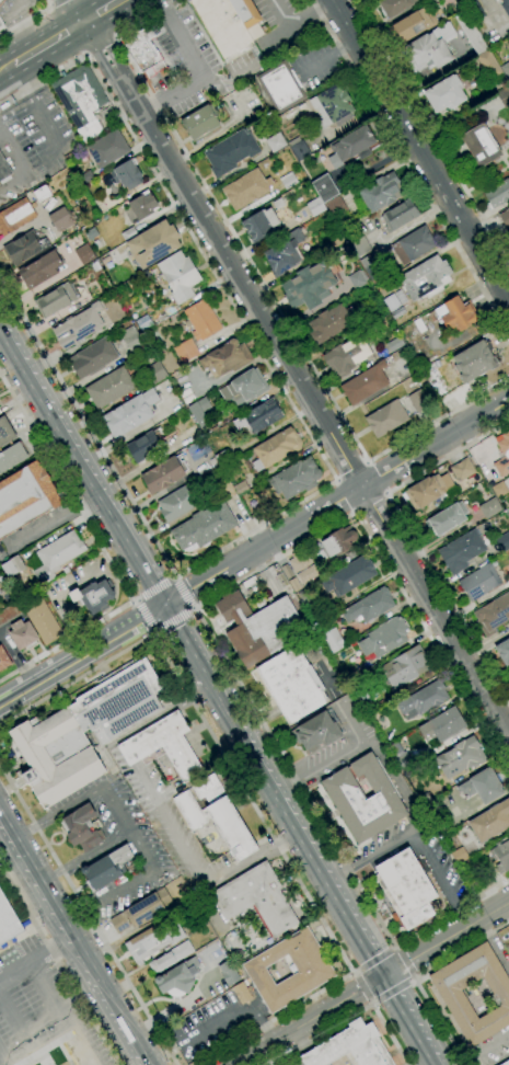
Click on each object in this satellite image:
building: (1, 1)
road: (55, 1)
parking lot: (365, 2)
road: (50, 4)
building: (395, 5)
building: (506, 8)
building: (473, 10)
road: (73, 11)
road: (101, 11)
building: (245, 12)
road: (26, 19)
road: (297, 22)
road: (27, 24)
building: (413, 24)
building: (1, 25)
building: (222, 26)
building: (470, 32)
railway: (56, 34)
road: (181, 37)
railway: (65, 38)
road: (114, 39)
road: (48, 43)
road: (100, 47)
building: (429, 49)
building: (143, 51)
road: (86, 54)
building: (488, 65)
road: (7, 68)
building: (506, 70)
building: (280, 87)
road: (171, 93)
building: (444, 93)
building: (504, 96)
building: (81, 100)
road: (32, 104)
building: (332, 106)
building: (200, 123)
road: (430, 133)
building: (276, 142)
building: (481, 145)
building: (351, 146)
building: (108, 148)
road: (420, 148)
building: (299, 150)
building: (231, 152)
road: (409, 168)
building: (3, 169)
building: (124, 175)
building: (288, 180)
building: (245, 188)
building: (324, 188)
building: (380, 192)
building: (42, 193)
building: (497, 194)
building: (278, 204)
building: (143, 205)
building: (315, 206)
building: (336, 206)
building: (15, 216)
building: (398, 216)
building: (505, 218)
building: (60, 219)
building: (261, 225)
building: (508, 236)
building: (154, 243)
building: (360, 245)
building: (414, 245)
building: (24, 248)
building: (83, 253)
building: (285, 254)
building: (372, 268)
building: (39, 270)
building: (178, 276)
building: (425, 278)
building: (356, 279)
building: (310, 285)
road: (265, 288)
building: (55, 300)
building: (391, 302)
building: (397, 313)
building: (455, 314)
building: (201, 320)
building: (143, 322)
building: (328, 324)
building: (79, 327)
building: (132, 340)
building: (394, 344)
building: (185, 350)
building: (347, 355)
building: (92, 357)
building: (225, 358)
building: (474, 362)
building: (155, 373)
road: (297, 378)
building: (365, 383)
building: (109, 388)
building: (244, 389)
building: (417, 401)
building: (200, 409)
building: (130, 413)
building: (262, 416)
building: (386, 419)
road: (66, 421)
building: (5, 432)
building: (146, 445)
building: (277, 447)
road: (320, 454)
building: (502, 456)
building: (11, 457)
building: (223, 457)
building: (462, 469)
road: (80, 471)
road: (352, 471)
building: (163, 474)
road: (378, 477)
building: (296, 478)
building: (224, 486)
building: (240, 489)
building: (428, 490)
building: (500, 490)
building: (24, 497)
road: (342, 499)
building: (180, 502)
road: (335, 503)
road: (371, 504)
building: (490, 507)
building: (447, 518)
building: (204, 527)
road: (412, 536)
building: (338, 541)
building: (504, 541)
road: (131, 546)
building: (461, 551)
road: (150, 552)
road: (104, 553)
building: (57, 556)
building: (12, 566)
building: (303, 566)
building: (348, 576)
road: (173, 577)
building: (479, 582)
road: (154, 589)
road: (182, 594)
building: (93, 596)
road: (176, 596)
building: (7, 597)
traffic signals: (177, 597)
road: (134, 600)
building: (369, 606)
traffic signals: (162, 607)
road: (193, 607)
building: (10, 612)
road: (146, 615)
building: (493, 615)
road: (173, 618)
building: (42, 620)
building: (259, 627)
road: (123, 631)
road: (155, 631)
building: (23, 634)
road: (201, 638)
building: (384, 638)
building: (333, 640)
road: (431, 641)
road: (184, 646)
building: (504, 651)
road: (196, 653)
building: (3, 660)
building: (405, 667)
building: (508, 668)
road: (42, 679)
building: (292, 684)
road: (246, 697)
building: (423, 700)
road: (162, 713)
flagpole: (193, 722)
road: (208, 723)
building: (442, 725)
building: (316, 732)
building: (47, 736)
building: (163, 746)
road: (220, 755)
road: (339, 755)
building: (460, 757)
building: (403, 760)
road: (275, 774)
flagpole: (231, 778)
road: (397, 781)
building: (482, 786)
building: (209, 790)
road: (152, 792)
building: (363, 799)
road: (116, 810)
building: (189, 810)
road: (59, 812)
road: (3, 815)
building: (490, 822)
road: (3, 825)
building: (81, 828)
building: (230, 828)
road: (12, 829)
road: (291, 833)
road: (41, 834)
road: (181, 841)
road: (370, 854)
building: (459, 856)
building: (500, 856)
road: (85, 857)
road: (30, 859)
road: (251, 862)
building: (106, 868)
road: (436, 881)
road: (128, 885)
road: (25, 889)
building: (406, 889)
road: (338, 897)
building: (256, 898)
building: (140, 911)
road: (451, 913)
road: (363, 914)
building: (8, 921)
building: (153, 940)
road: (57, 944)
road: (394, 948)
road: (493, 948)
road: (461, 950)
road: (37, 958)
building: (171, 958)
road: (374, 961)
road: (402, 963)
road: (59, 964)
road: (395, 967)
traffic signals: (396, 969)
building: (311, 972)
road: (354, 972)
road: (95, 973)
building: (227, 973)
building: (178, 977)
traffic signals: (380, 977)
road: (412, 980)
road: (371, 982)
road: (128, 984)
road: (363, 986)
road: (391, 988)
building: (241, 994)
building: (451, 995)
road: (390, 996)
parking lot: (32, 1000)
road: (371, 1003)
road: (176, 1005)
road: (420, 1009)
road: (96, 1011)
road: (275, 1020)
road: (13, 1022)
road: (439, 1023)
road: (63, 1024)
road: (213, 1026)
road: (418, 1030)
road: (322, 1034)
road: (389, 1034)
road: (86, 1038)
road: (415, 1039)
building: (350, 1046)
road: (436, 1049)
road: (483, 1050)
road: (2, 1058)
road: (501, 1061)
road: (425, 1063)
building: (506, 1063)
road: (150, 1064)

